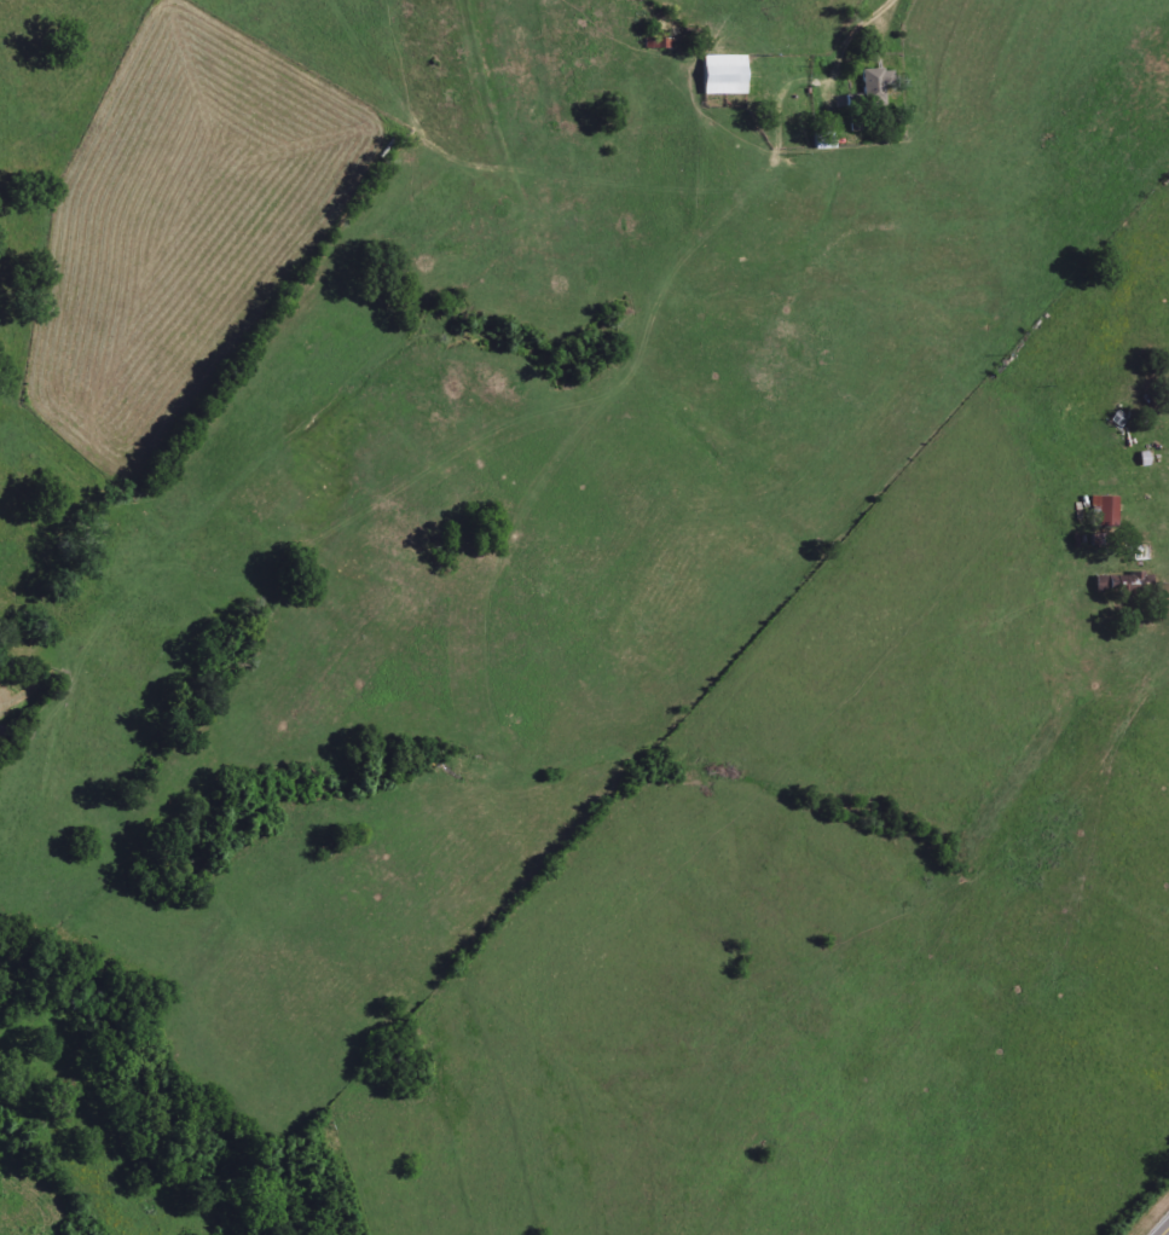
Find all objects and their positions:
building: (724, 75)
building: (876, 81)
building: (824, 141)
building: (1106, 511)
road: (1167, 639)
road: (1168, 1234)

